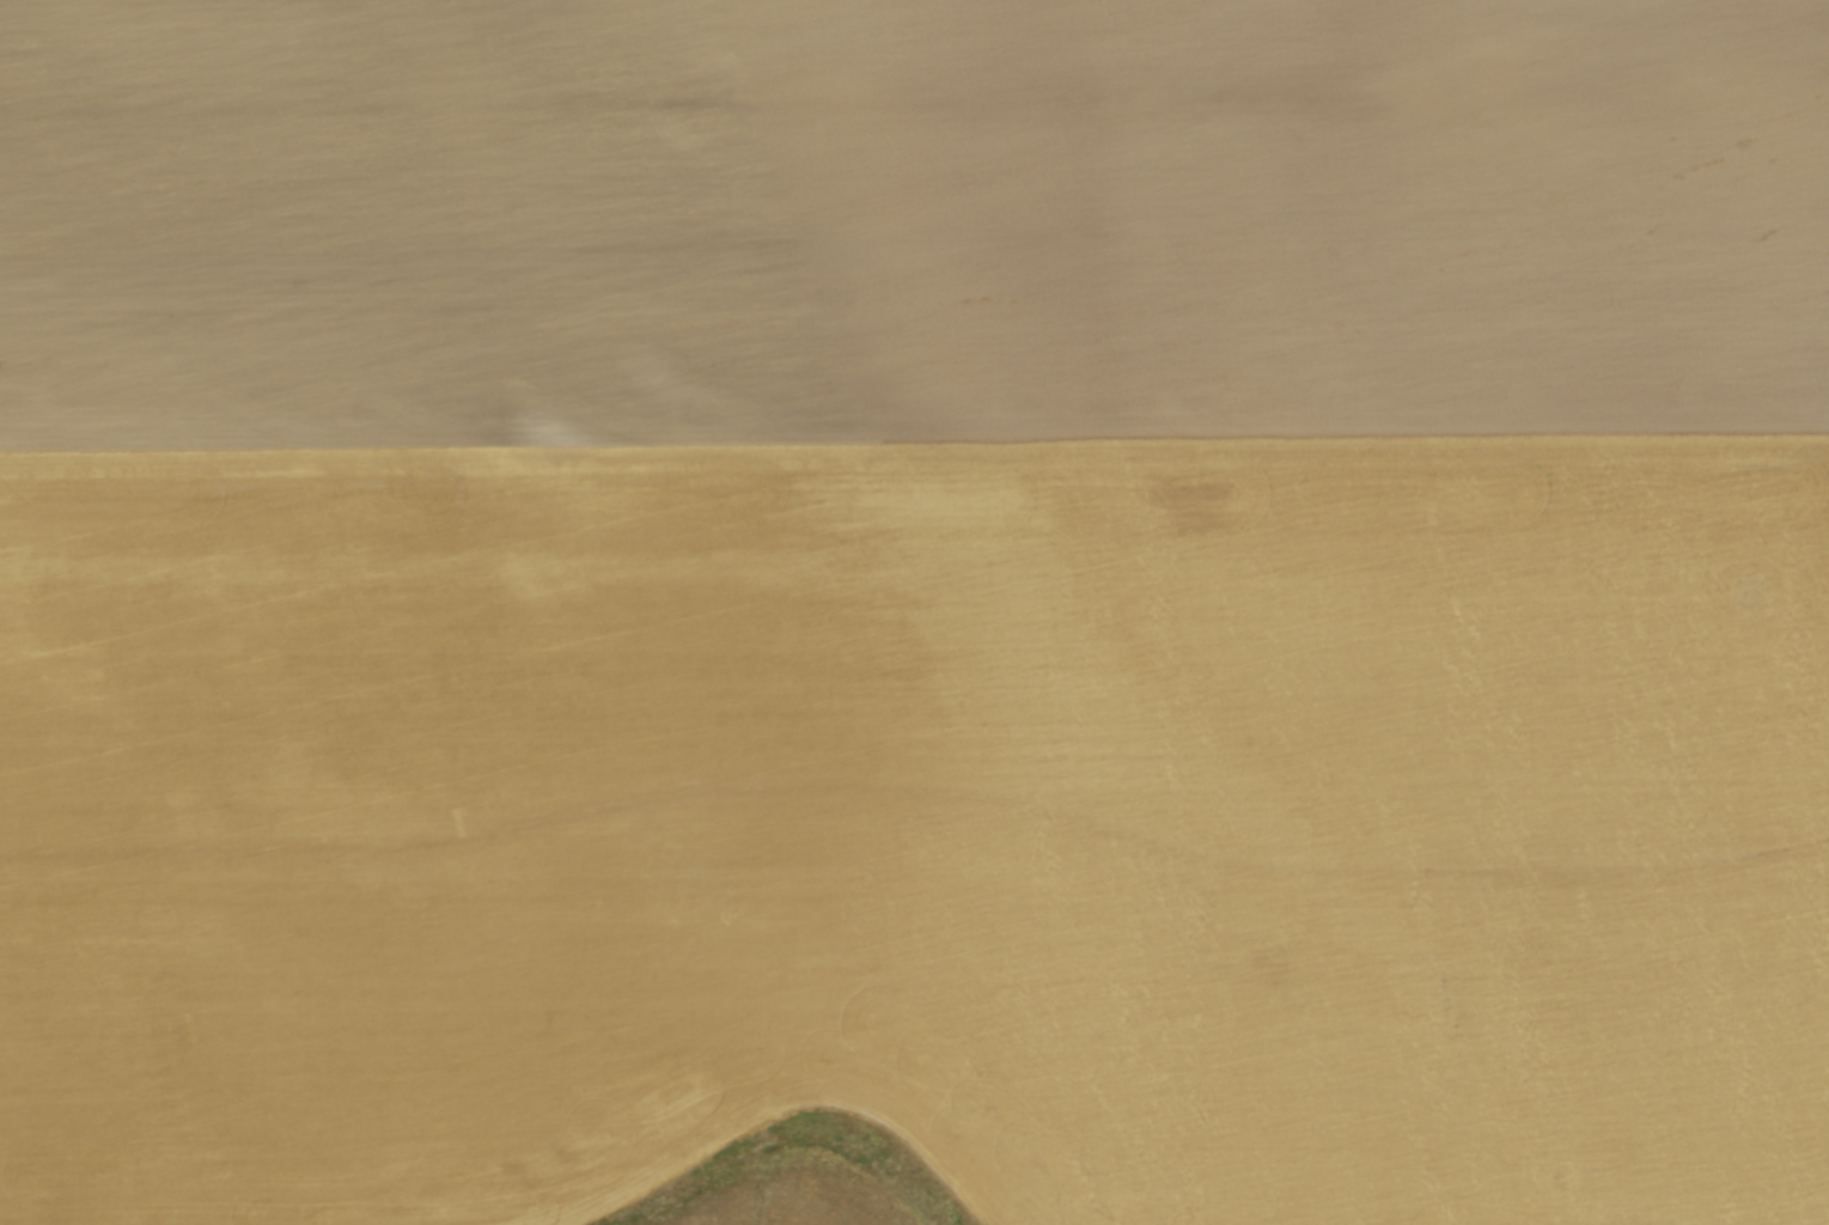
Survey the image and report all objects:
crop: (914, 612)

